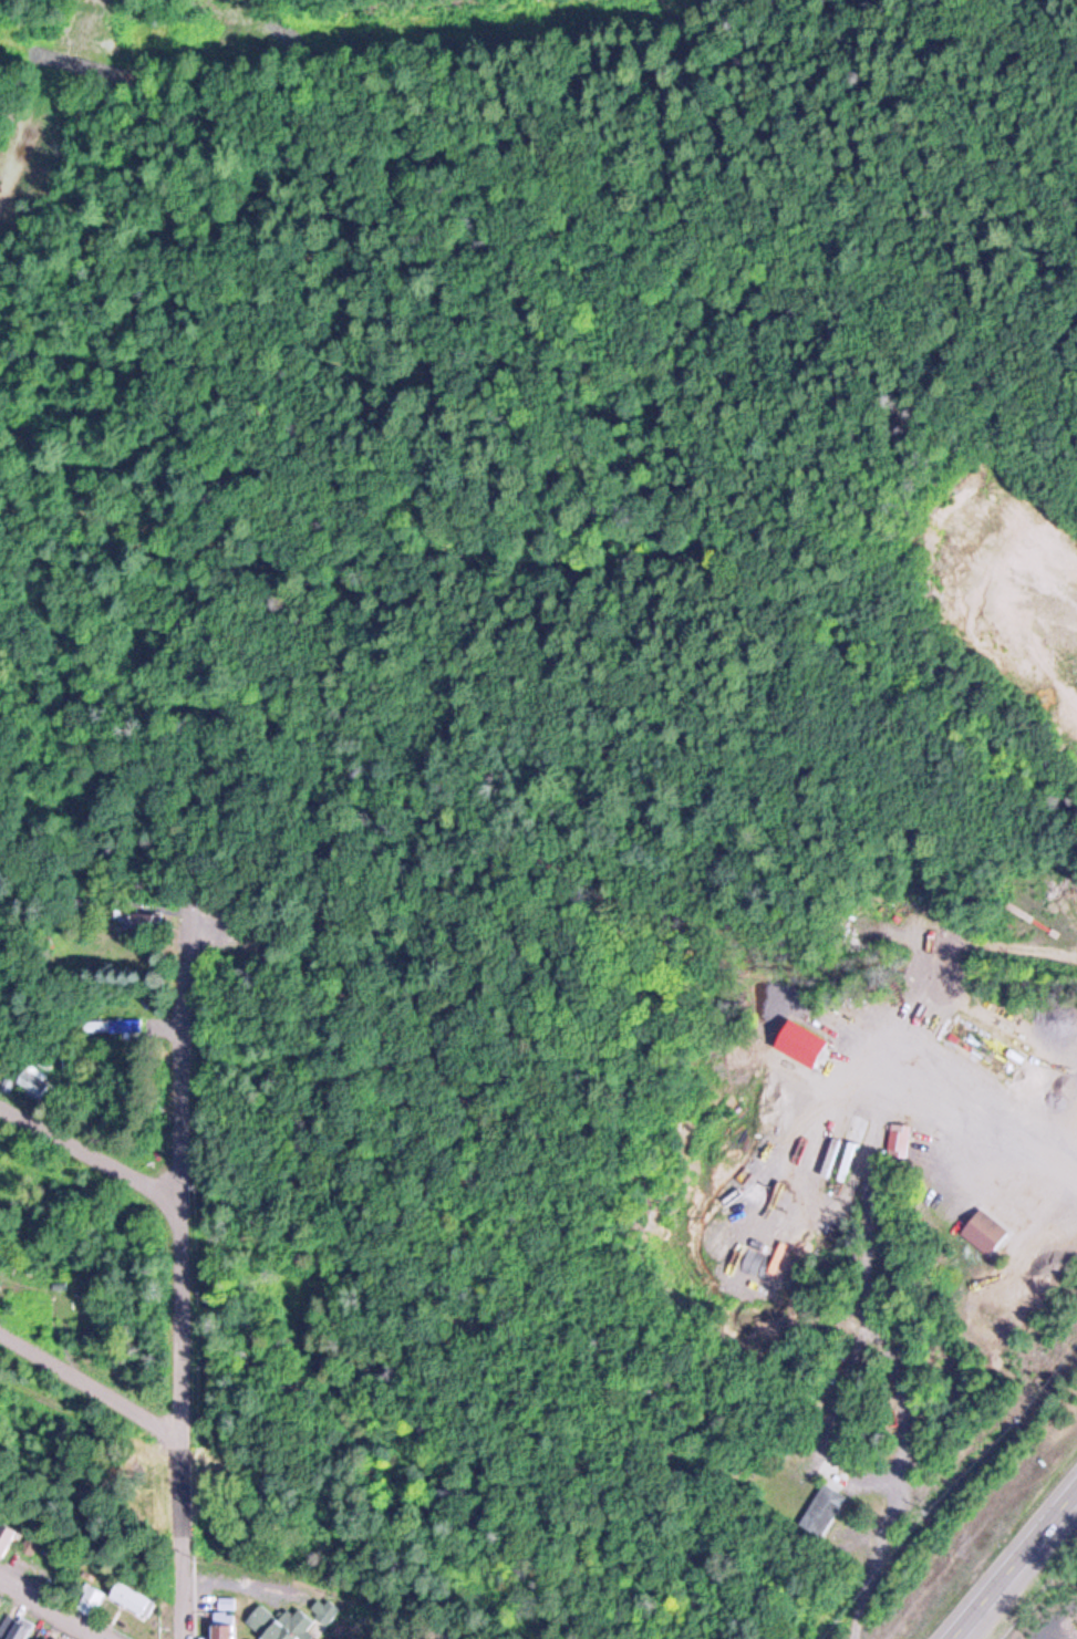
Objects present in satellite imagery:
road: (52, 101)
building: (142, 924)
building: (113, 1024)
building: (35, 1080)
building: (900, 1137)
road: (89, 1143)
building: (850, 1160)
building: (990, 1231)
road: (182, 1268)
road: (92, 1375)
building: (822, 1511)
building: (6, 1538)
building: (29, 1542)
road: (1014, 1564)
building: (130, 1598)
building: (90, 1599)
road: (61, 1602)
building: (0, 1607)
building: (279, 1624)
building: (15, 1628)
building: (221, 1629)
building: (51, 1638)

